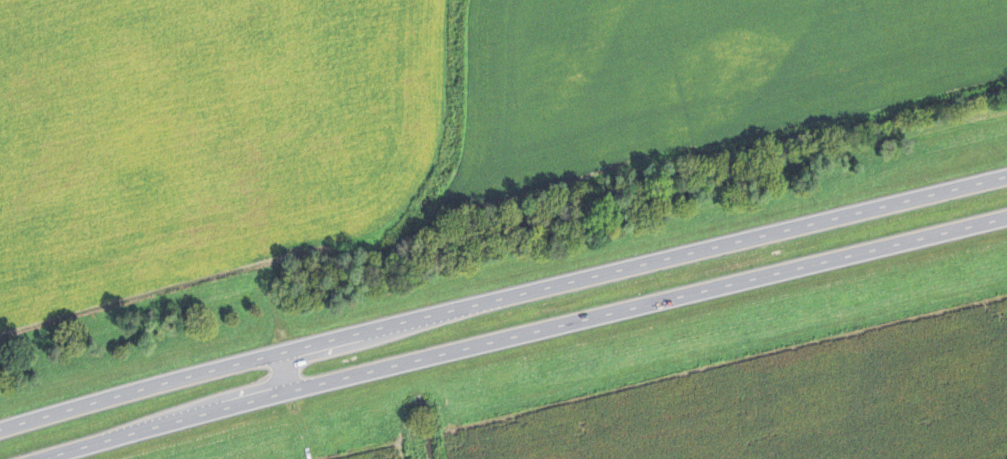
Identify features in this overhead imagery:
crop: (201, 138)
road: (645, 263)
road: (276, 307)
road: (524, 331)
road: (288, 368)
road: (141, 392)
road: (303, 423)
crop: (381, 454)

